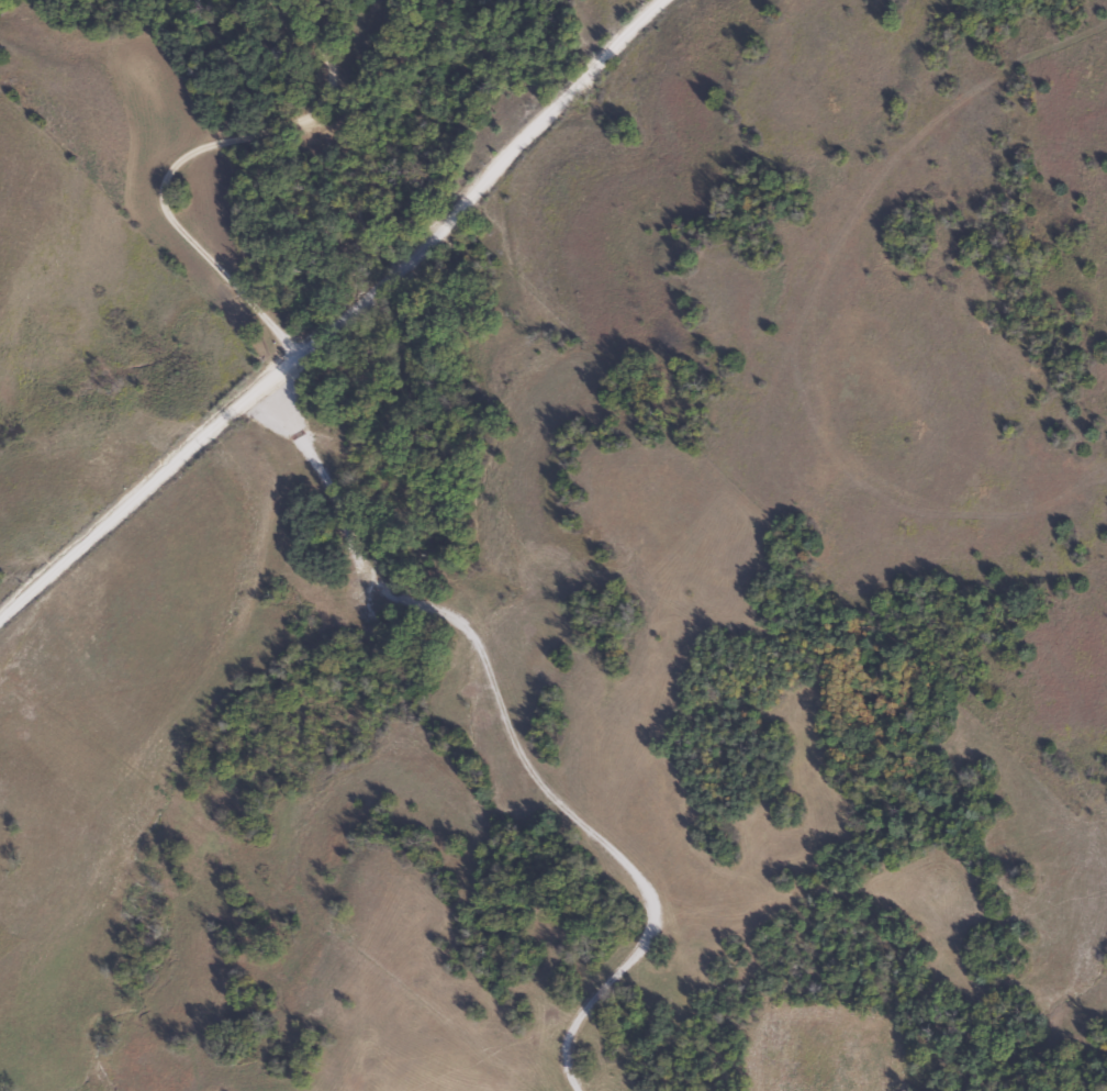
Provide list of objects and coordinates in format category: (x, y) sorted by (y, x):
road: (326, 304)
road: (512, 735)

